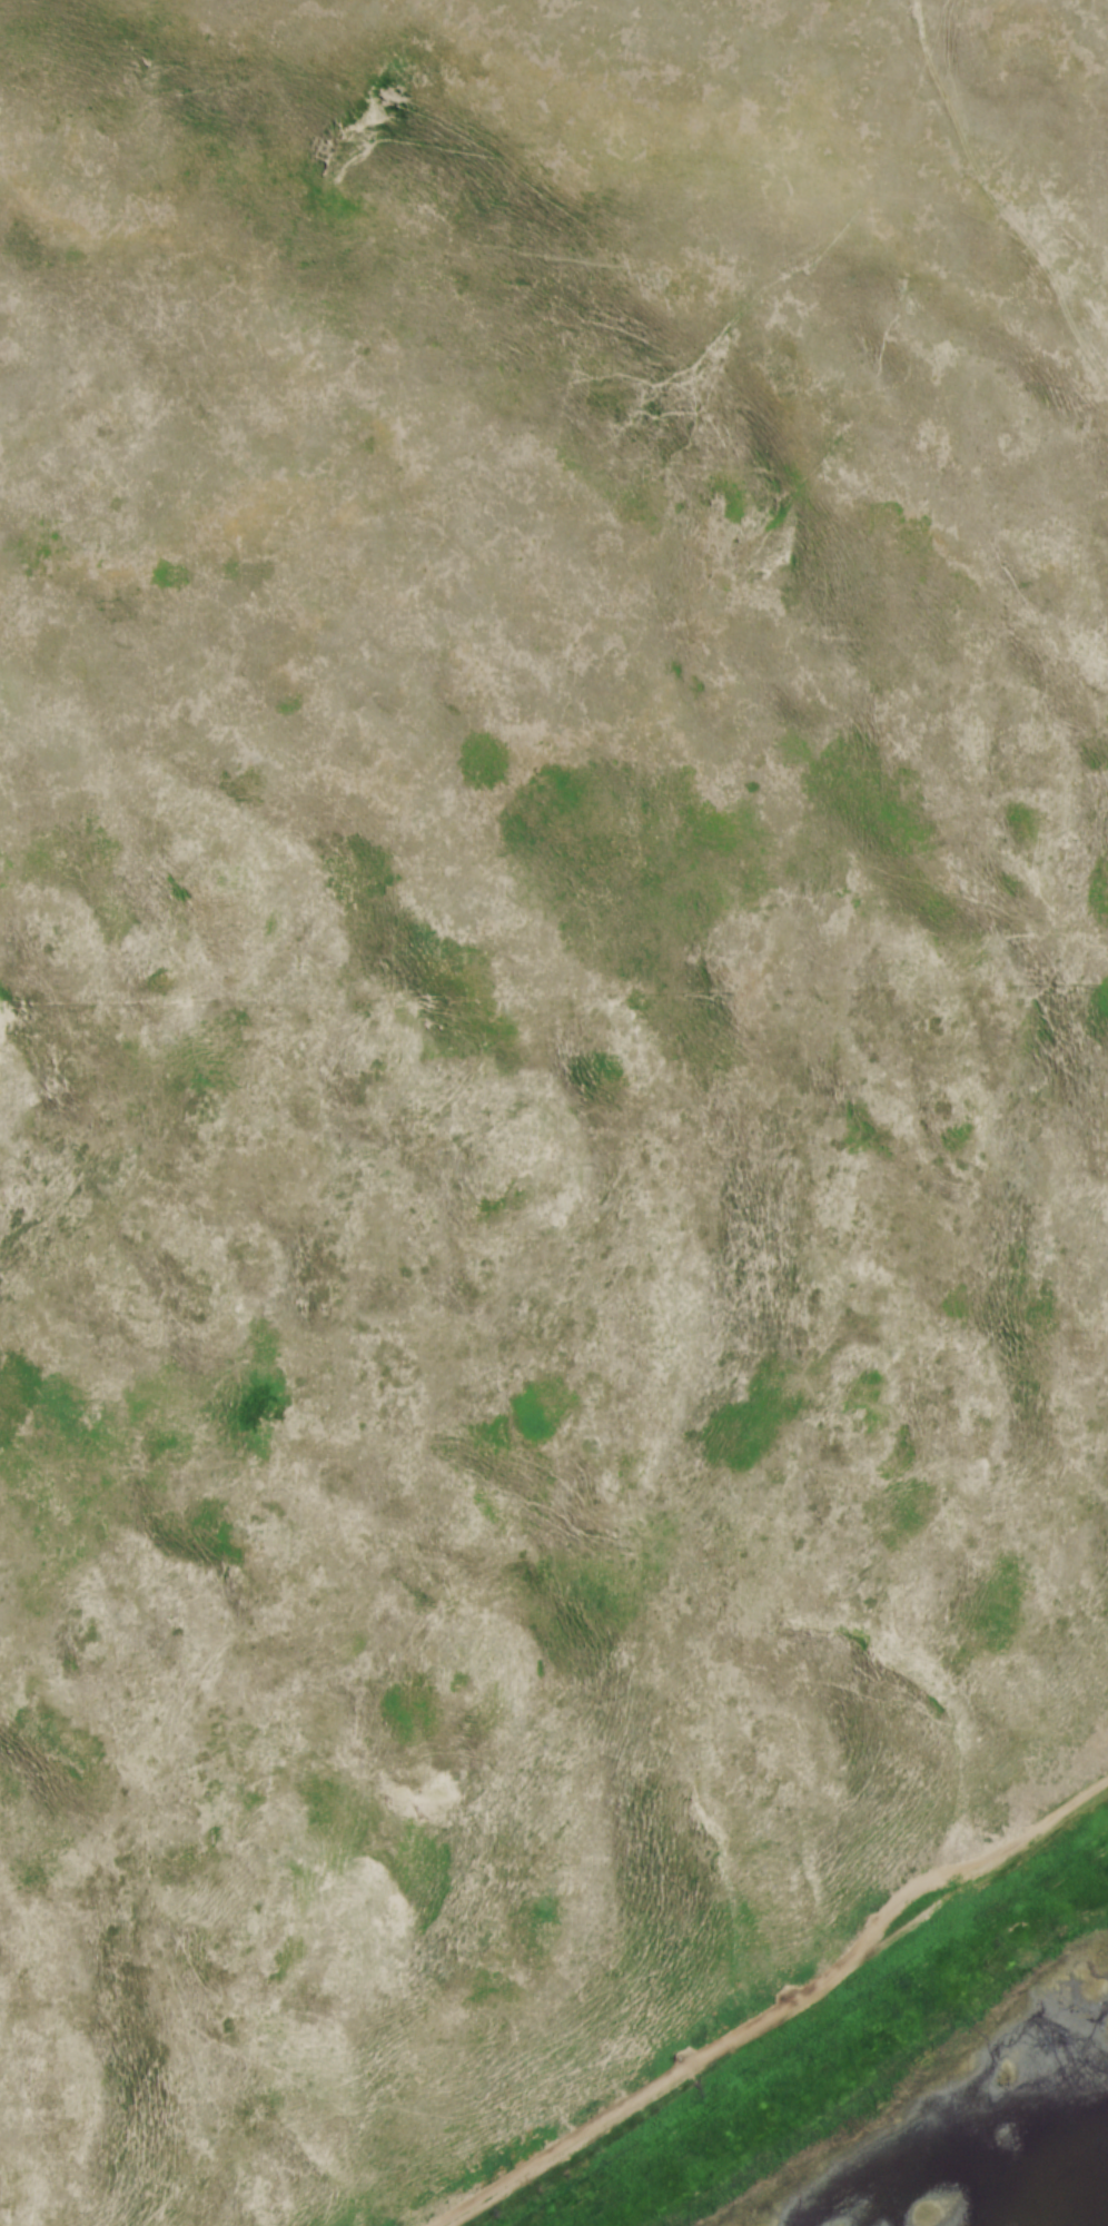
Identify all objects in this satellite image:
airport runway: (843, 2066)

